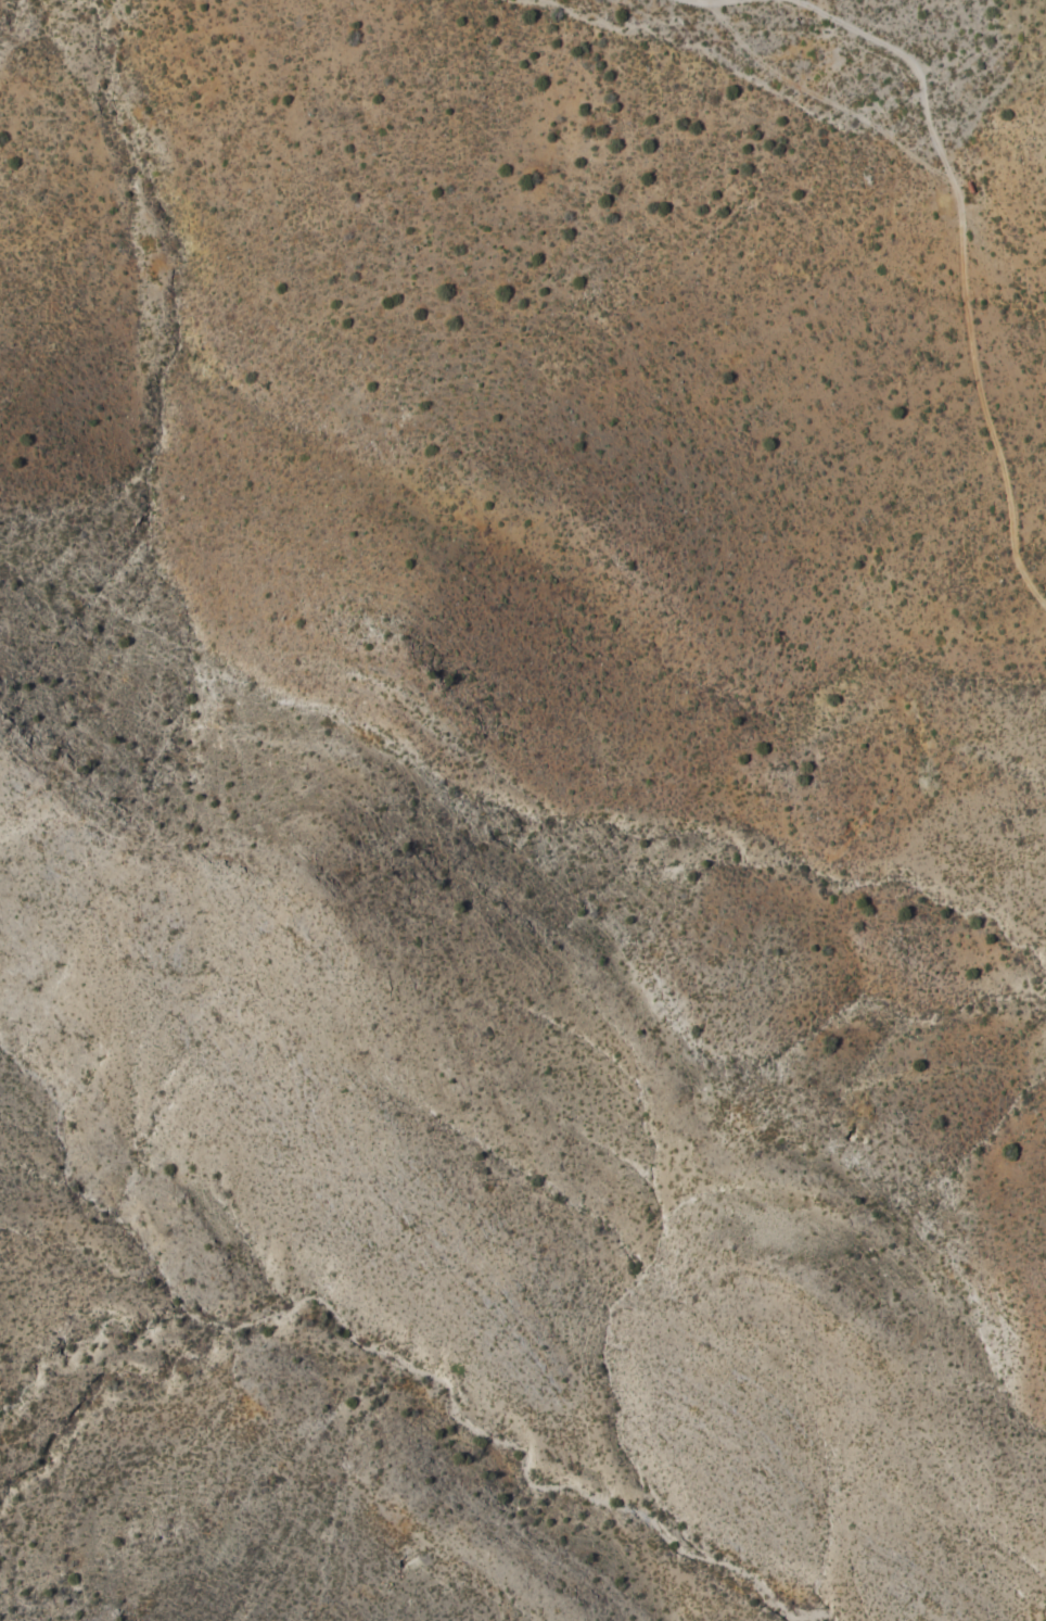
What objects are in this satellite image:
road: (711, 0)
road: (821, 100)
road: (961, 269)

